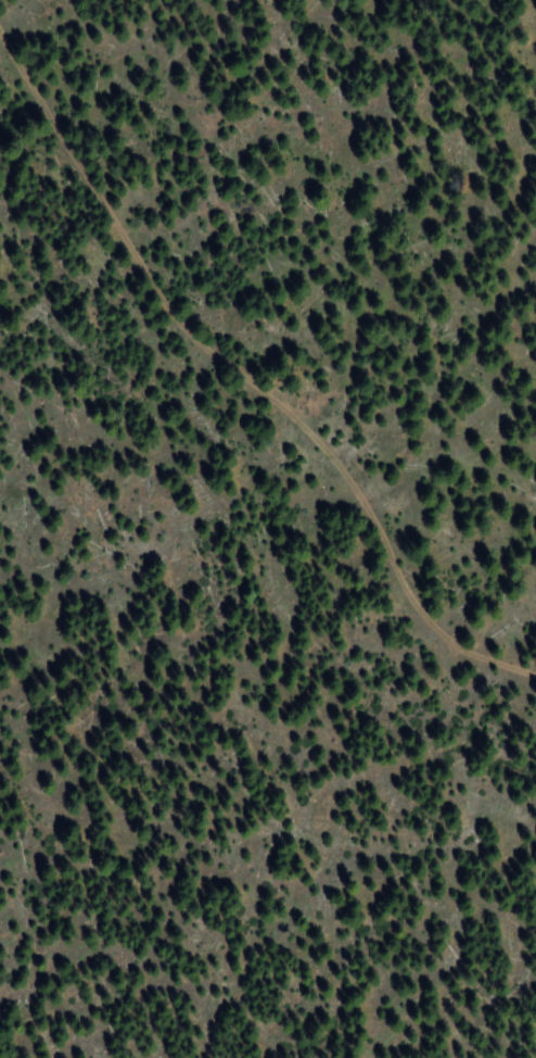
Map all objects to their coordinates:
road: (246, 376)

